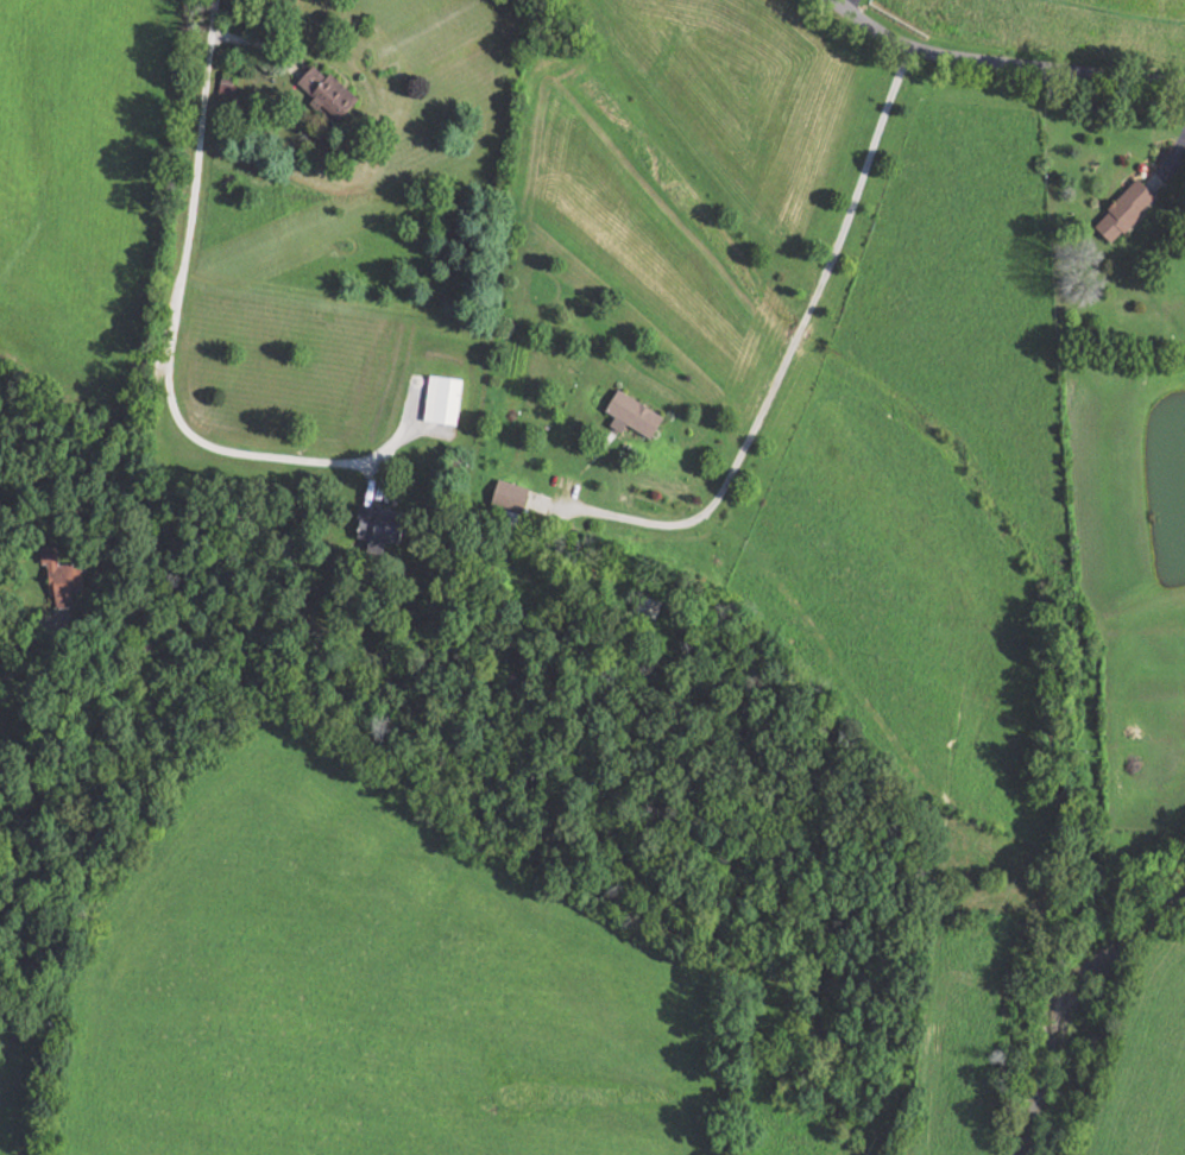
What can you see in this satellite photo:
road: (1002, 59)
building: (226, 87)
building: (329, 93)
building: (1118, 212)
road: (170, 313)
road: (784, 360)
building: (443, 399)
building: (637, 414)
building: (510, 496)
building: (380, 528)

